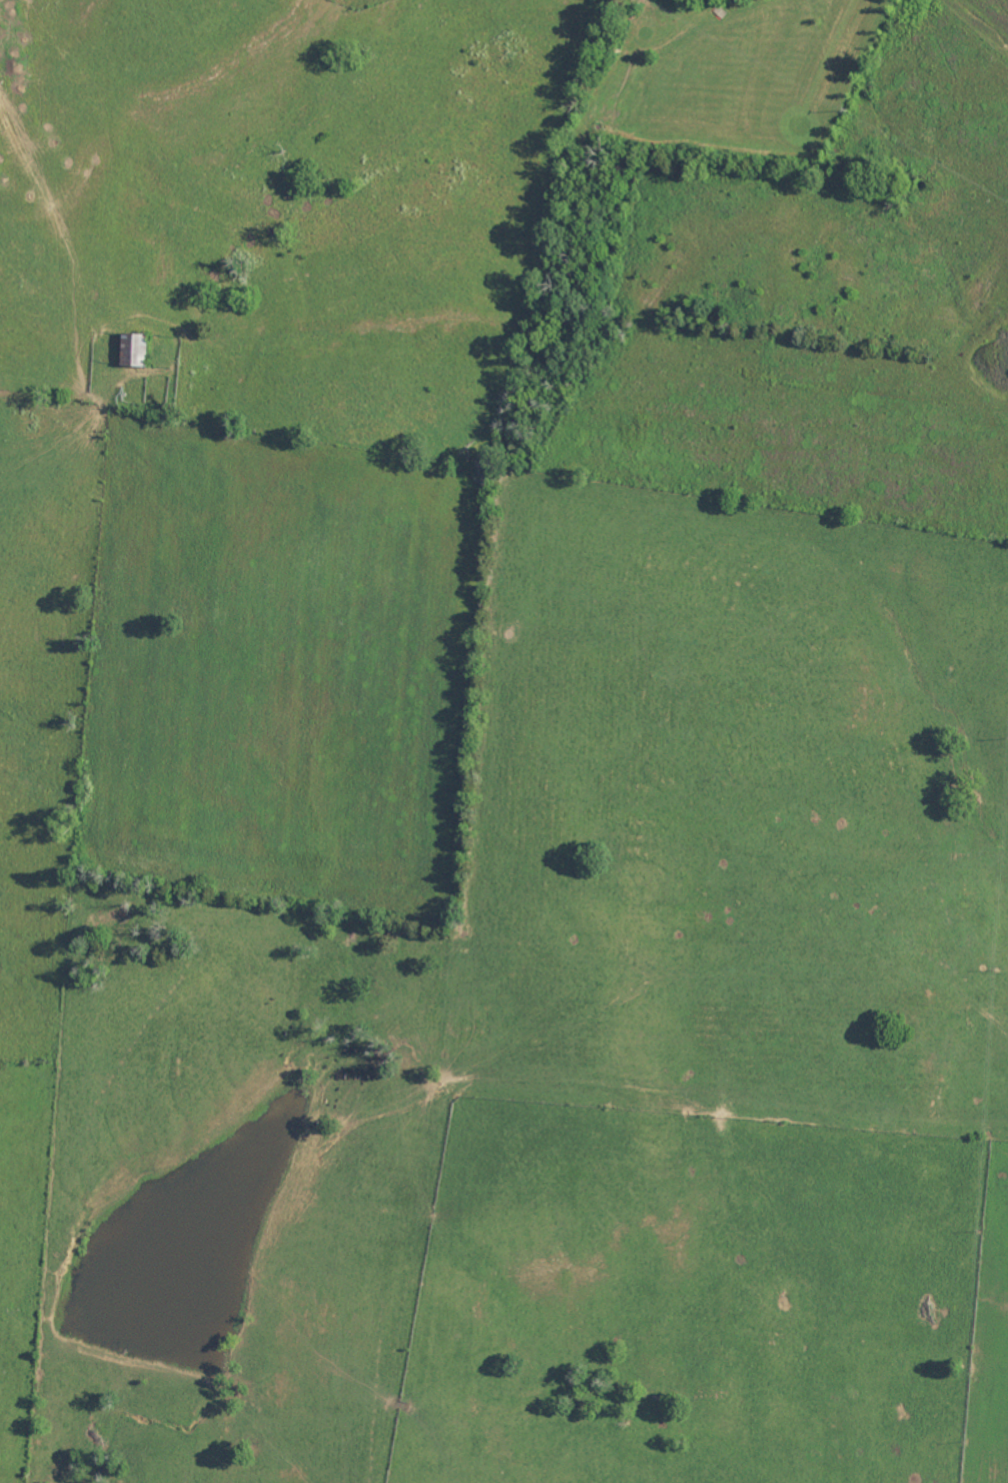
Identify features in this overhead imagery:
road: (8, 64)
building: (132, 349)

